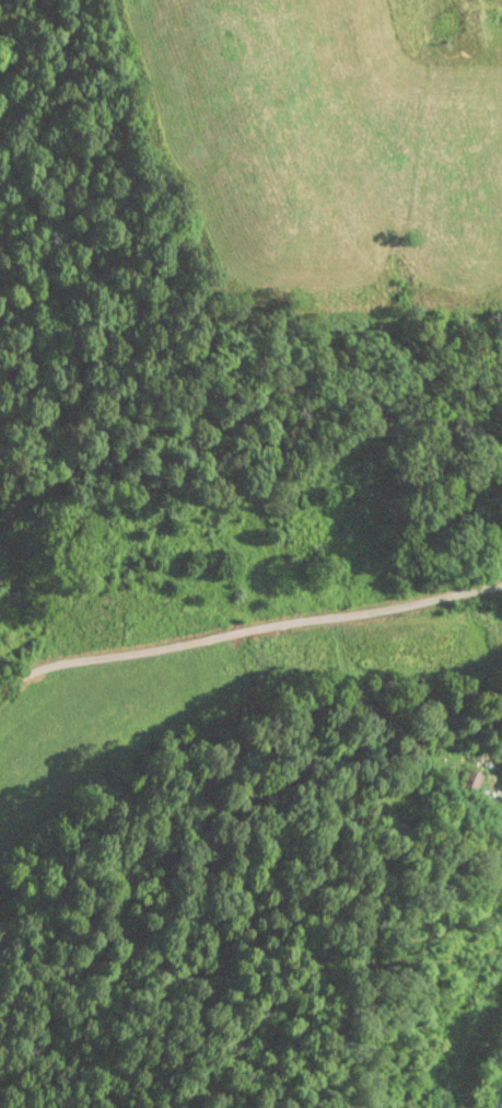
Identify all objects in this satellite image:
road: (244, 647)
building: (500, 782)
road: (489, 1078)

